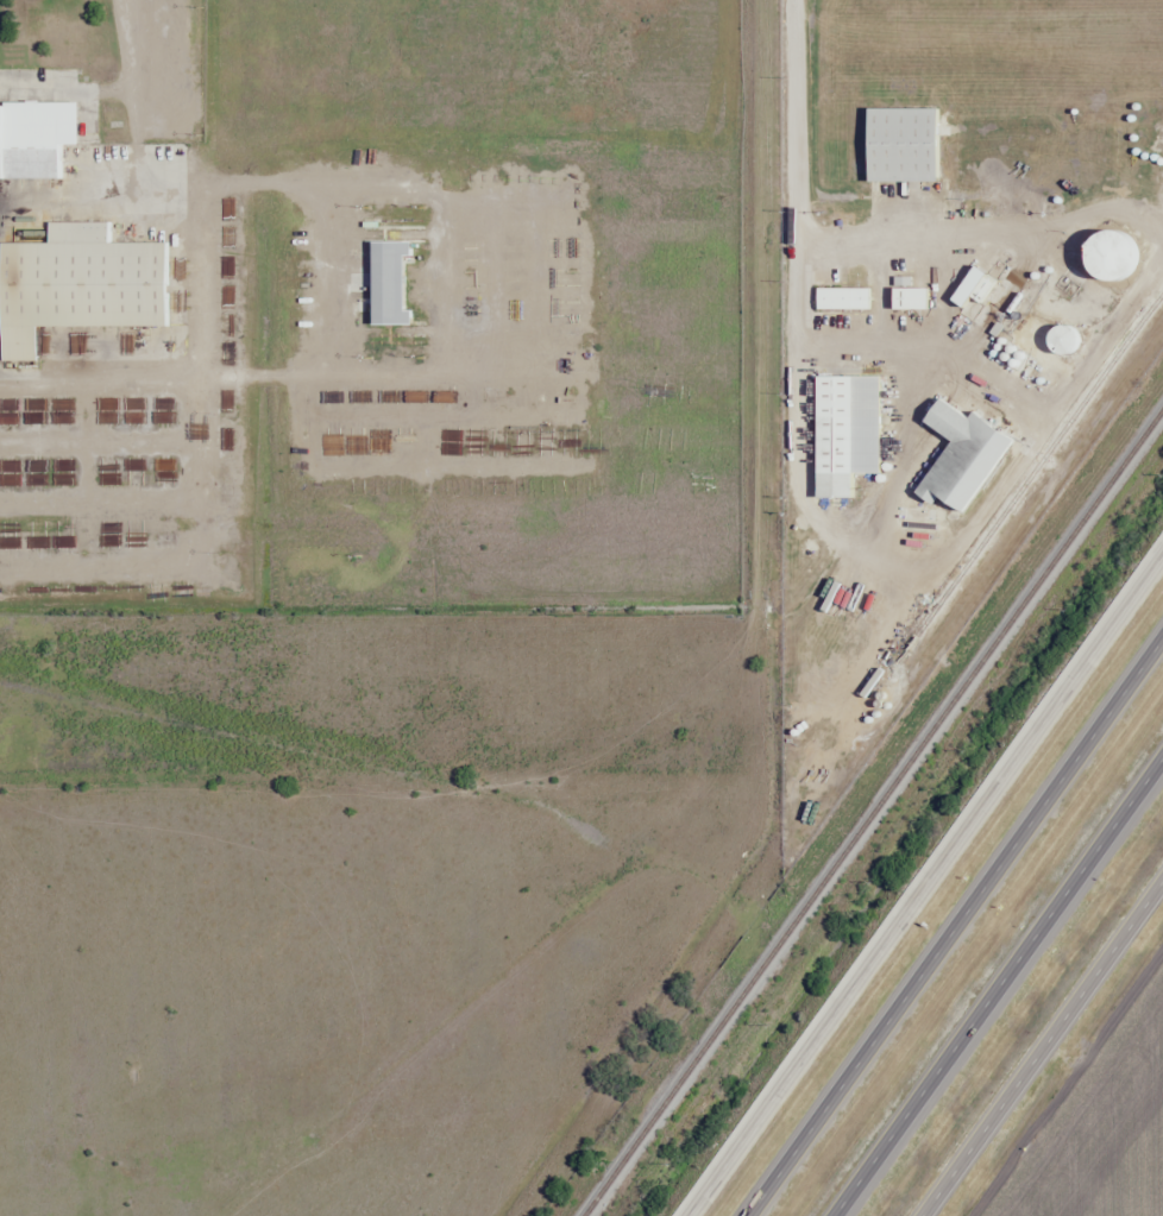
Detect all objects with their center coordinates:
building: (33, 141)
building: (901, 145)
building: (1107, 256)
building: (438, 269)
building: (86, 285)
building: (842, 298)
building: (909, 298)
building: (545, 316)
building: (590, 316)
building: (520, 319)
building: (465, 321)
building: (411, 325)
building: (384, 327)
building: (1063, 340)
building: (590, 368)
building: (652, 370)
building: (389, 380)
building: (496, 384)
building: (415, 385)
building: (453, 385)
building: (363, 388)
building: (832, 436)
building: (511, 441)
railway: (1039, 465)
building: (199, 593)
railway: (873, 813)
road: (925, 884)
road: (954, 926)
road: (998, 985)
road: (1042, 1047)

